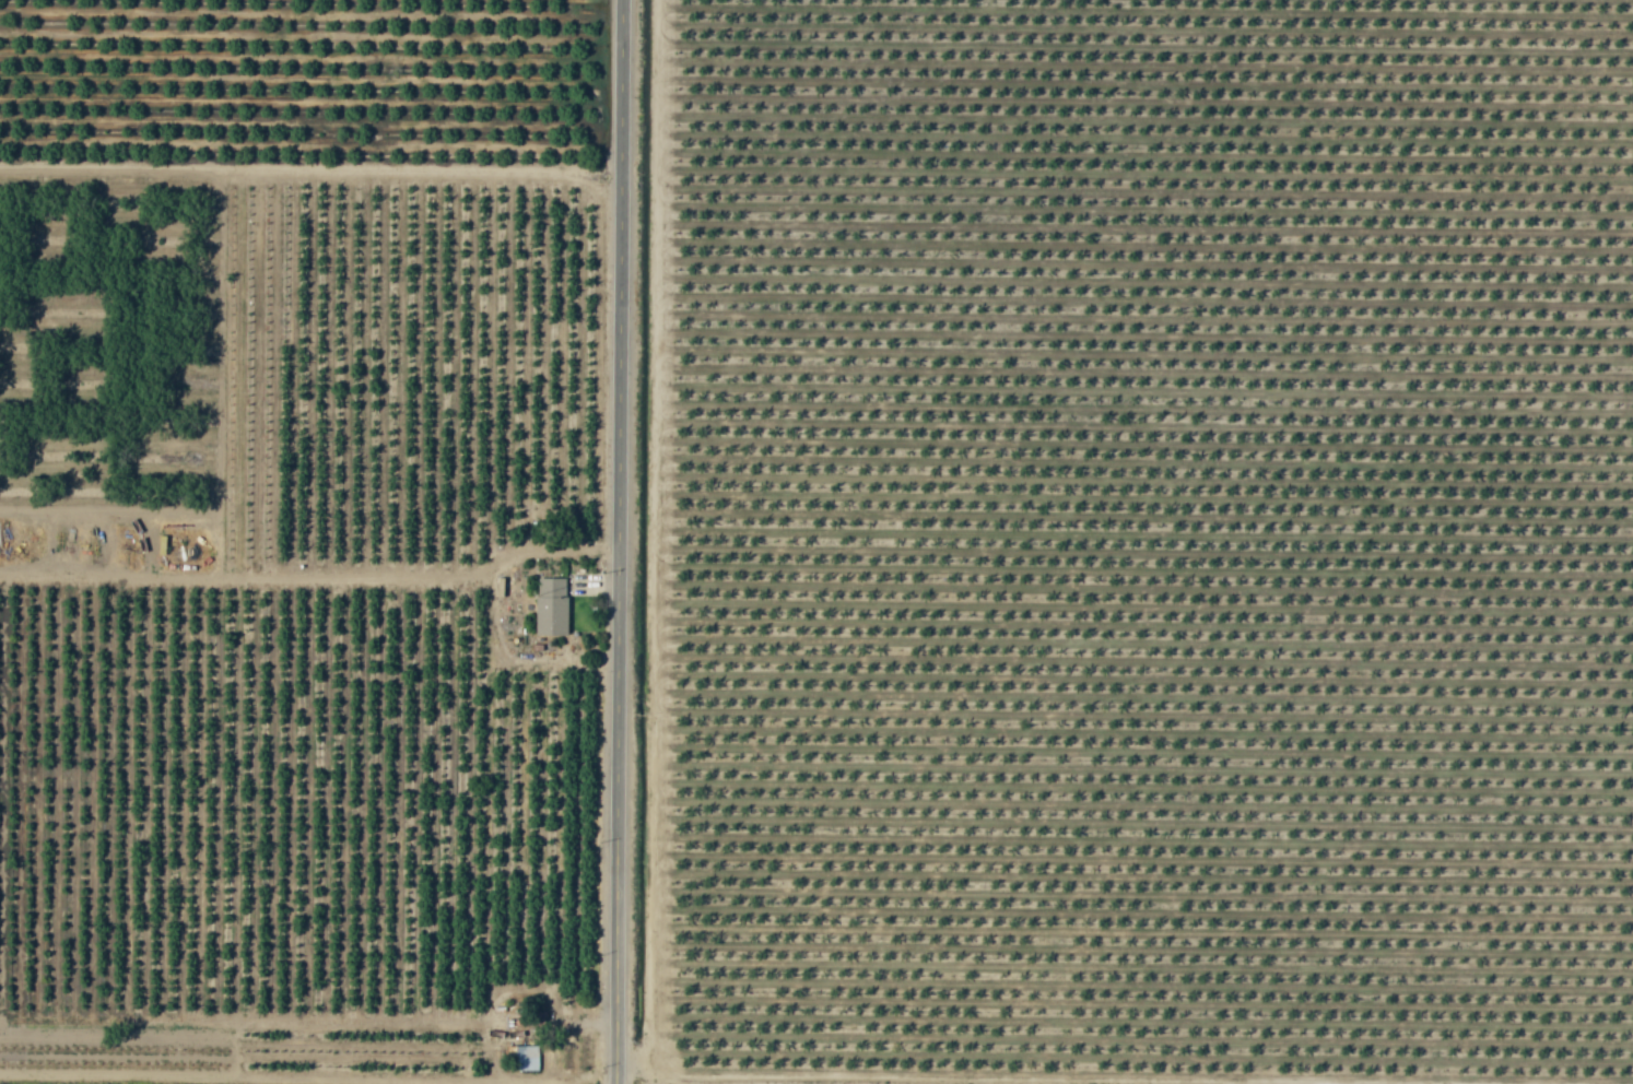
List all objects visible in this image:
road: (621, 541)
building: (551, 605)

